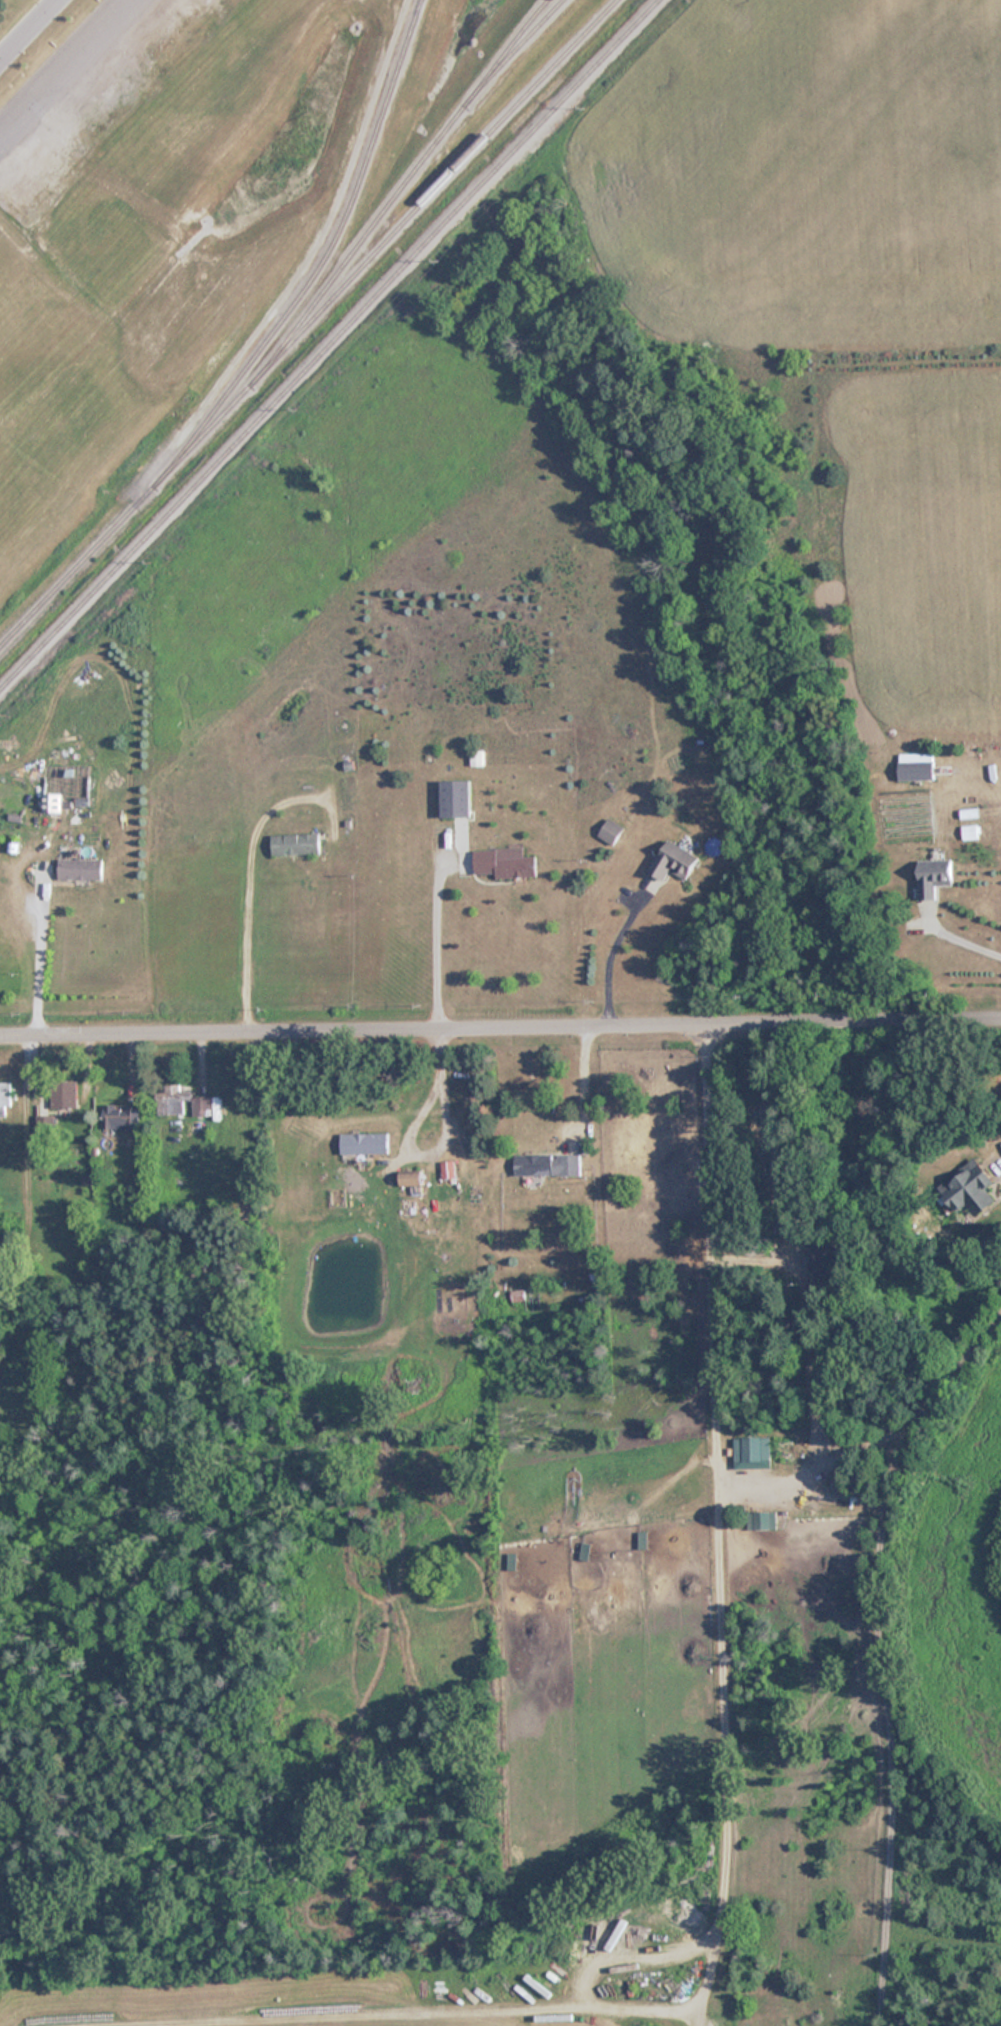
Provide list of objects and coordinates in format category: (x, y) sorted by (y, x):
road: (25, 26)
railway: (524, 34)
railway: (406, 180)
railway: (331, 242)
railway: (307, 322)
railway: (328, 343)
building: (917, 770)
building: (455, 797)
building: (610, 831)
building: (970, 832)
building: (294, 843)
building: (674, 861)
building: (503, 864)
building: (42, 869)
building: (79, 869)
building: (934, 877)
road: (242, 890)
road: (430, 937)
road: (960, 938)
road: (34, 950)
road: (605, 950)
road: (500, 1029)
road: (577, 1084)
building: (5, 1098)
building: (180, 1100)
building: (55, 1108)
building: (120, 1116)
road: (403, 1134)
building: (364, 1143)
building: (548, 1164)
building: (410, 1179)
building: (970, 1189)
building: (518, 1296)
building: (752, 1452)
building: (762, 1520)
road: (858, 1630)

